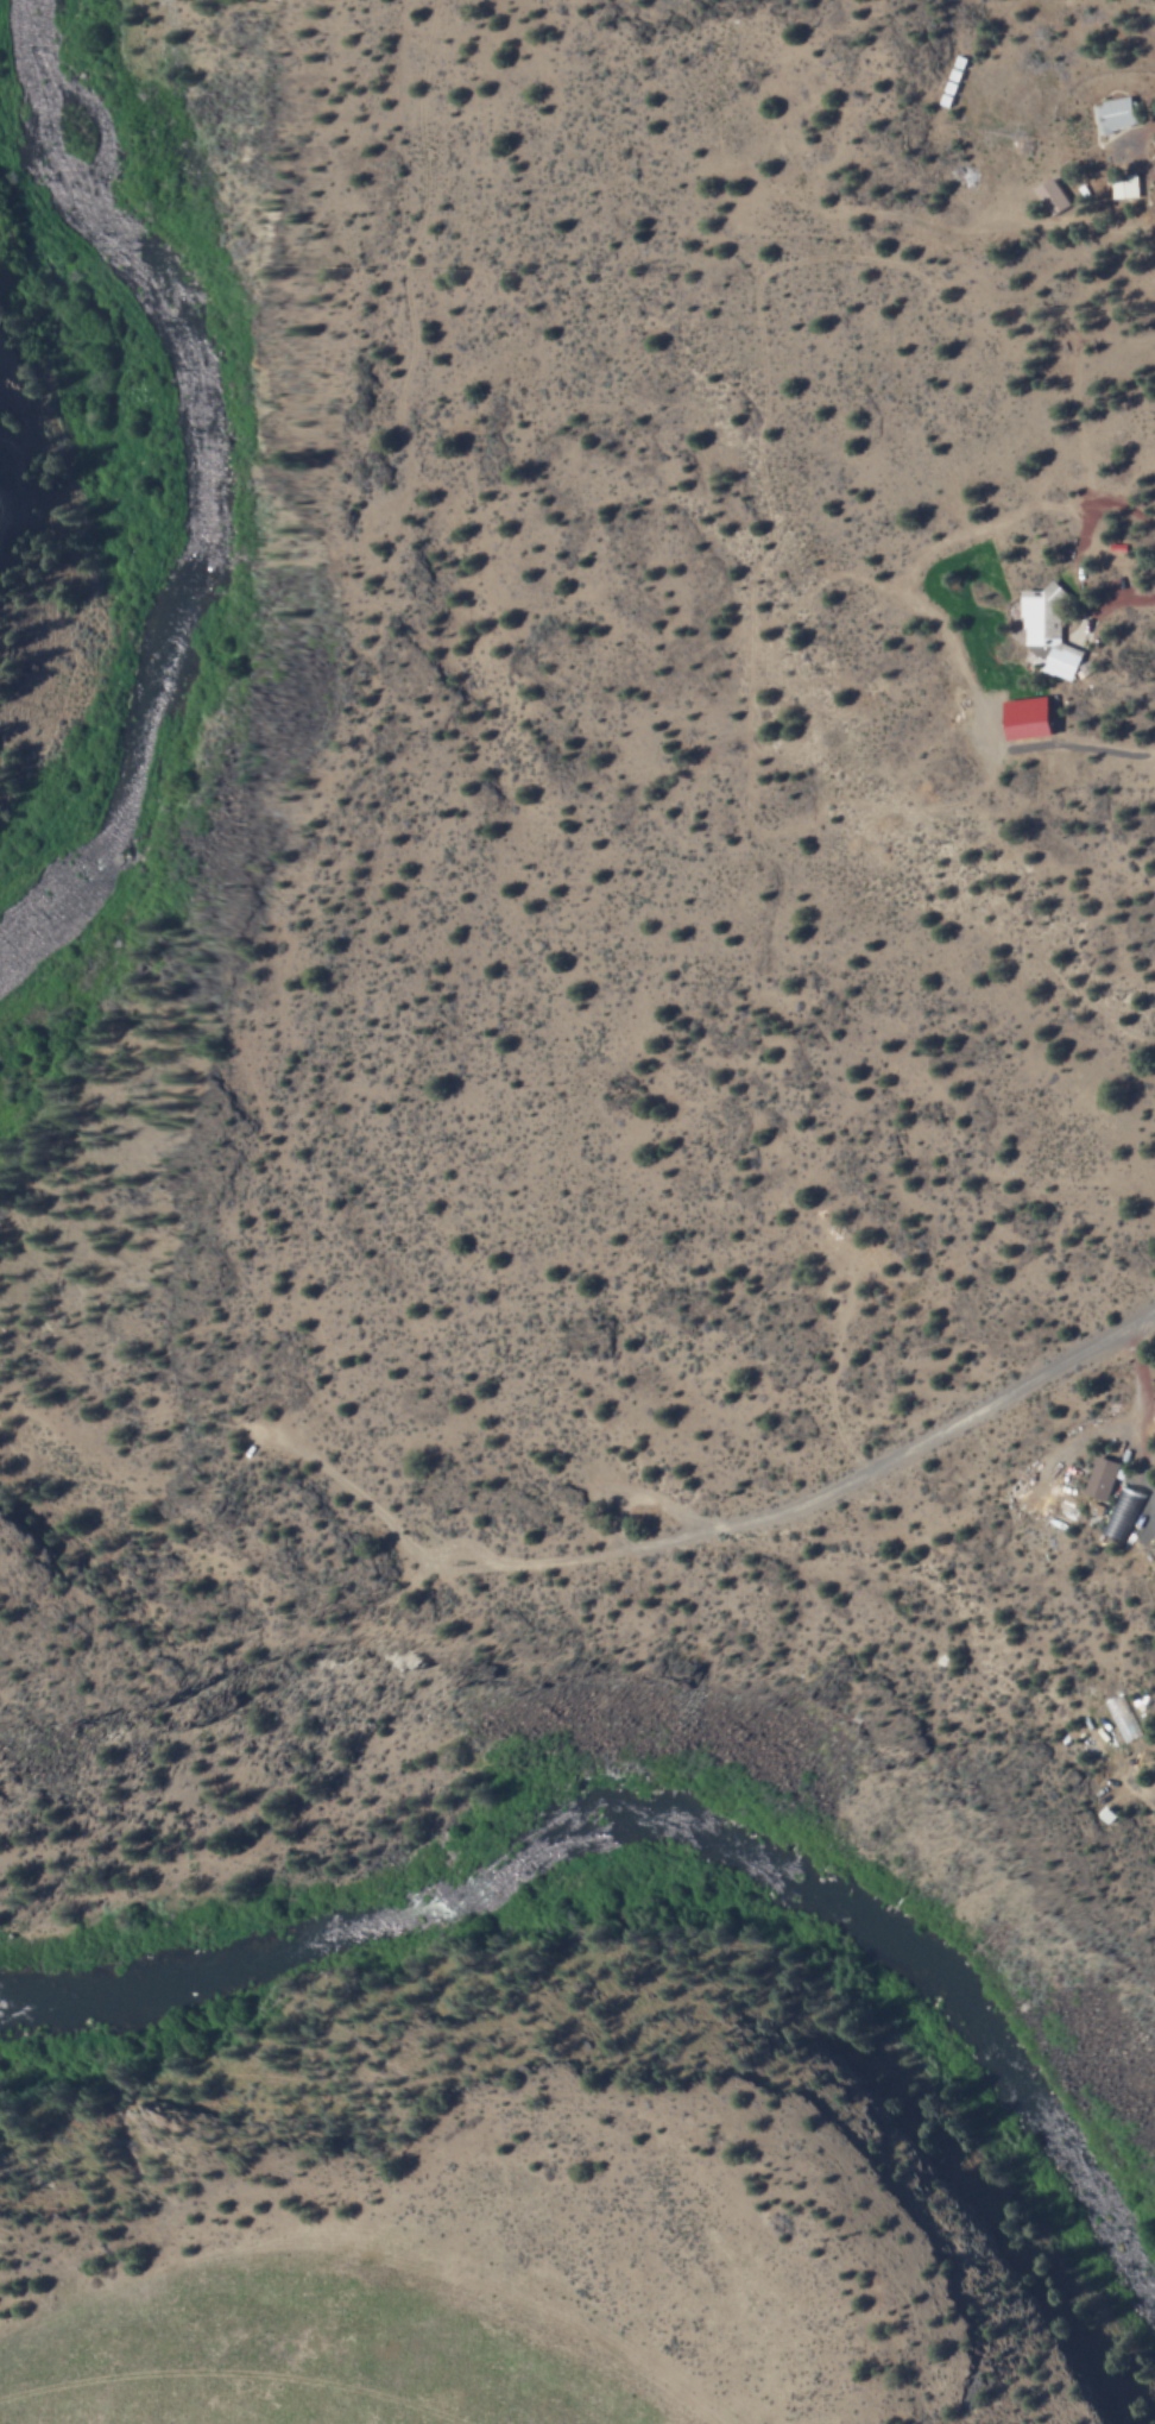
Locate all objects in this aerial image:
building: (1116, 113)
building: (1125, 185)
building: (1054, 196)
river: (198, 485)
building: (1034, 624)
building: (1029, 717)
building: (1103, 1479)
road: (852, 1485)
building: (1123, 1513)
river: (688, 1834)
crop: (476, 2321)

